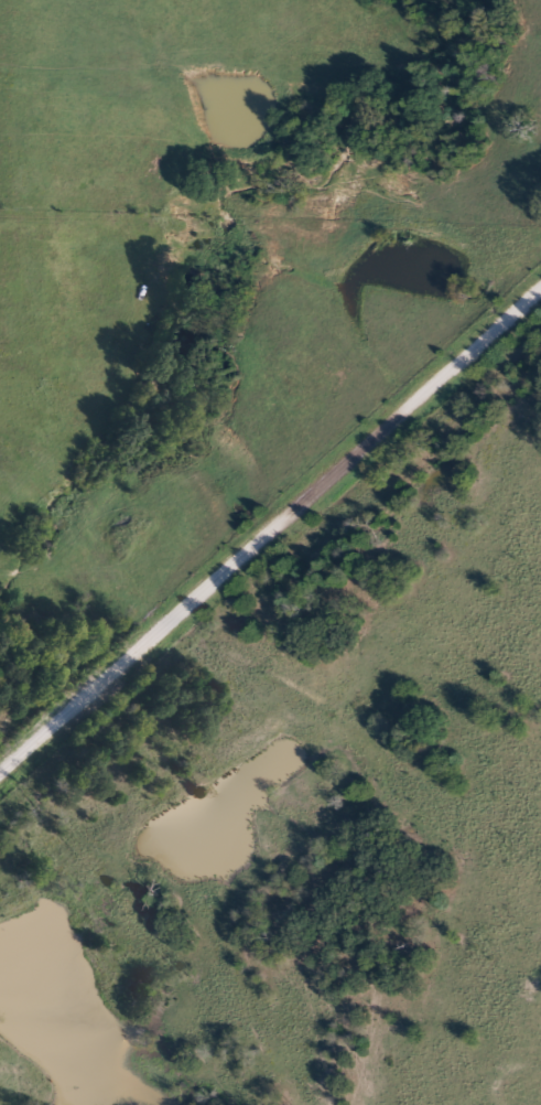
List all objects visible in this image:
road: (268, 525)

